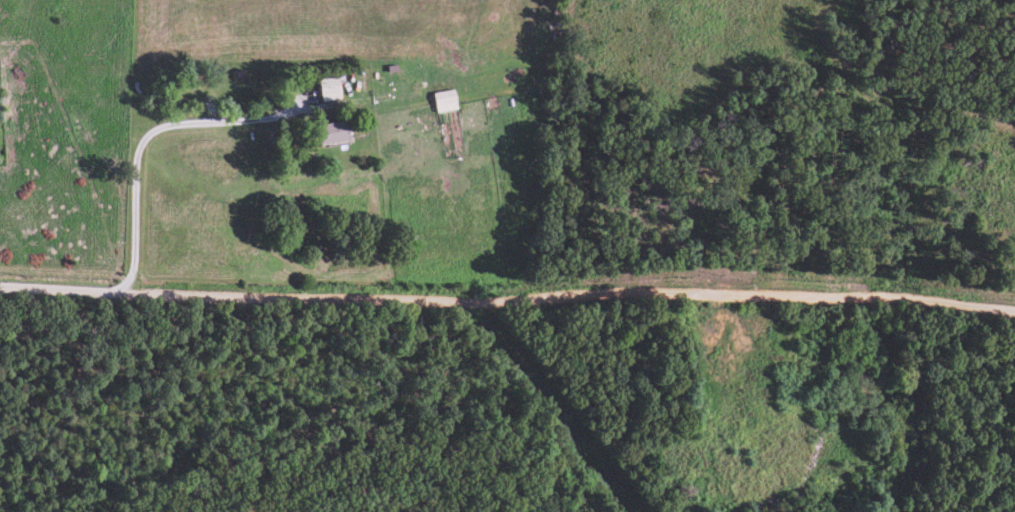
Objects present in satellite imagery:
building: (326, 90)
building: (441, 102)
building: (327, 133)
road: (145, 136)
road: (507, 301)

